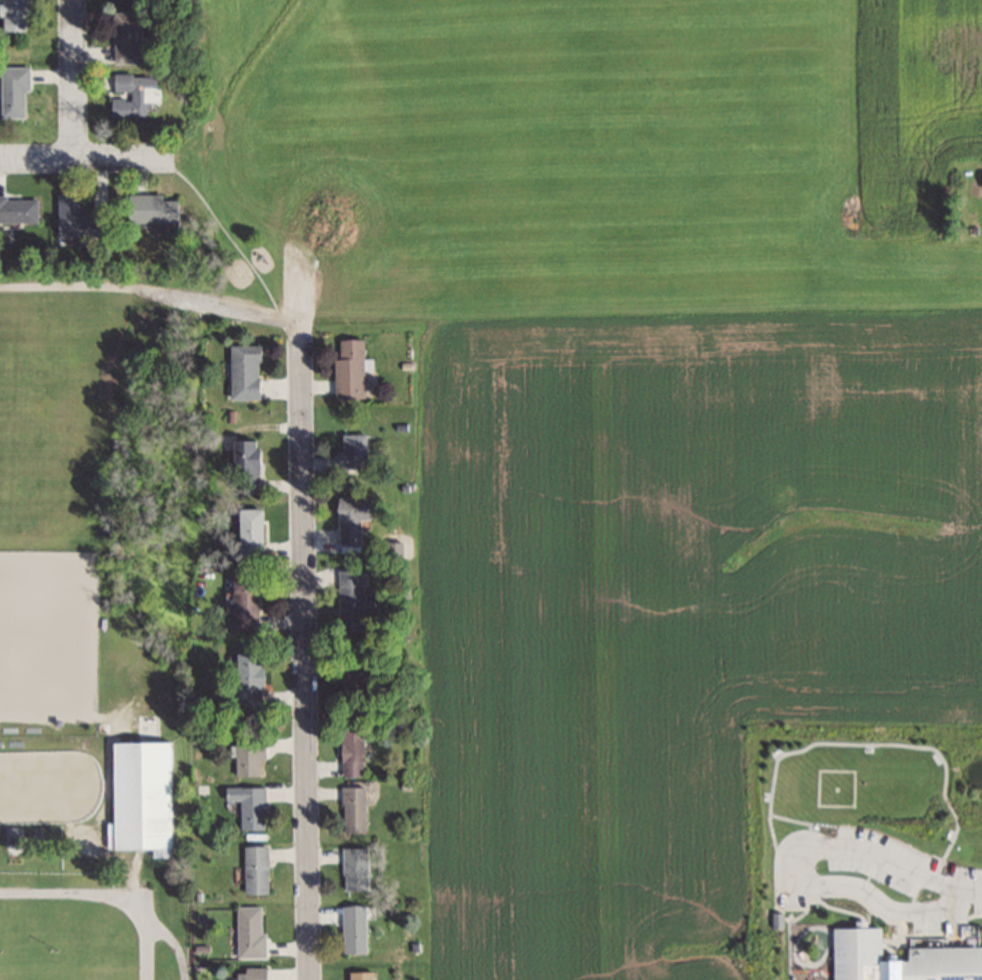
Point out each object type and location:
building: (18, 15)
building: (132, 37)
road: (72, 79)
building: (17, 92)
building: (139, 93)
crop: (915, 113)
road: (87, 158)
building: (19, 209)
building: (155, 209)
building: (83, 220)
road: (155, 289)
building: (347, 369)
building: (243, 372)
building: (350, 452)
building: (244, 467)
building: (350, 520)
building: (250, 533)
building: (245, 602)
building: (348, 602)
crop: (668, 609)
park: (97, 626)
road: (304, 657)
building: (352, 675)
building: (247, 679)
building: (148, 724)
building: (350, 749)
building: (248, 759)
building: (140, 797)
building: (248, 806)
building: (352, 809)
building: (255, 868)
building: (354, 868)
road: (109, 893)
building: (353, 928)
building: (249, 930)
building: (859, 956)
building: (941, 963)
building: (250, 974)
building: (359, 975)

